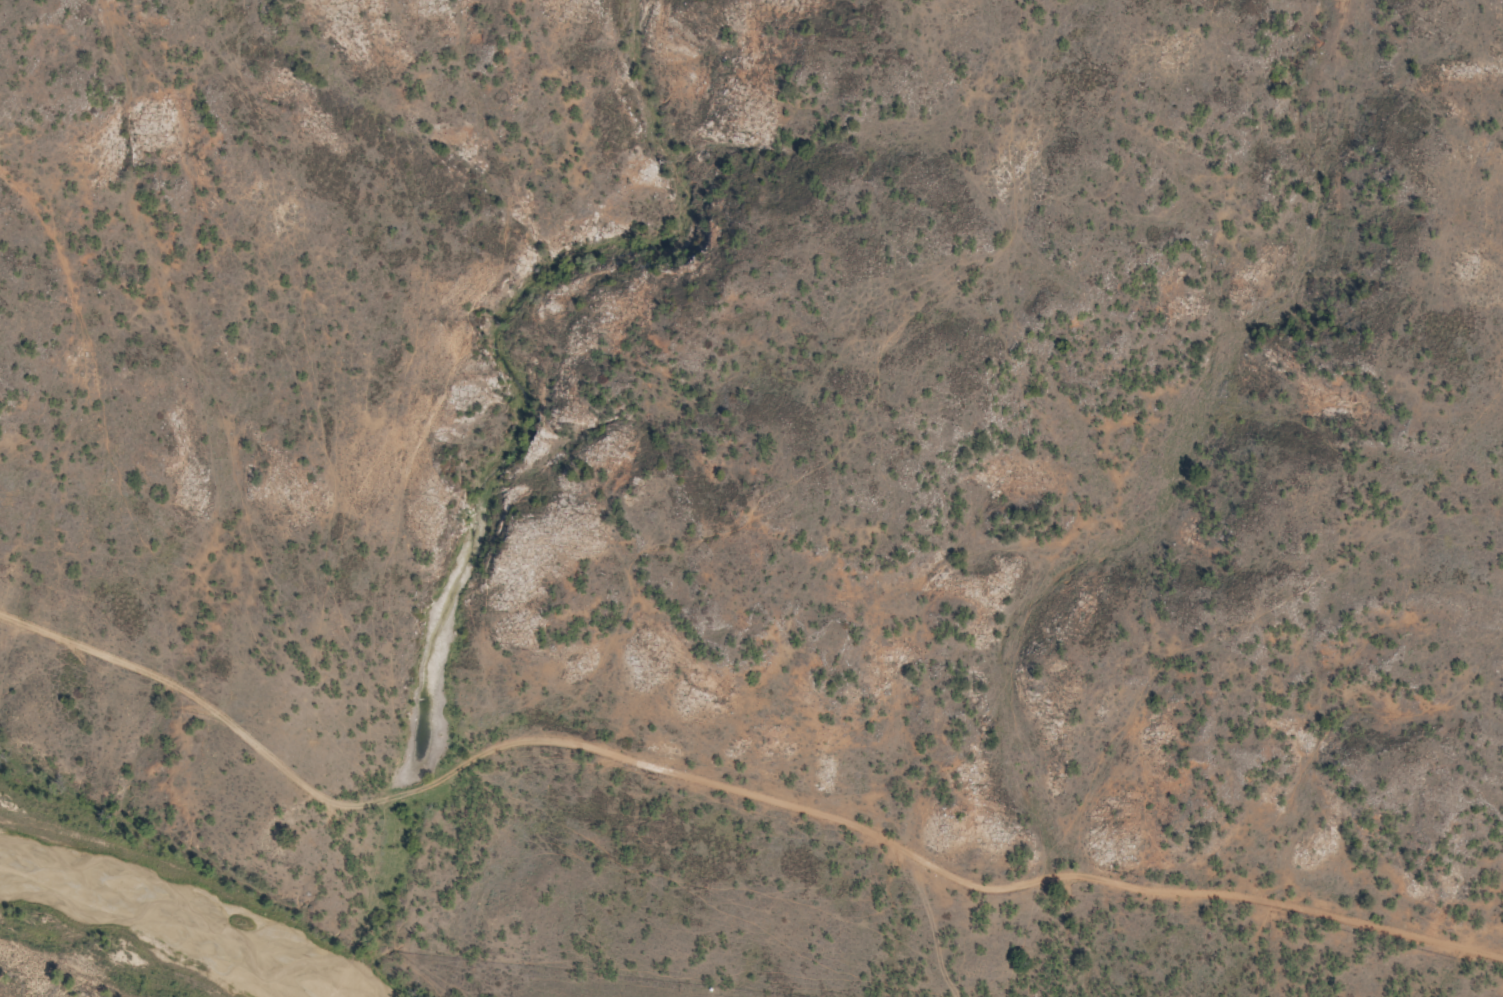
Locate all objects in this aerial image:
road: (305, 785)
river: (175, 913)

